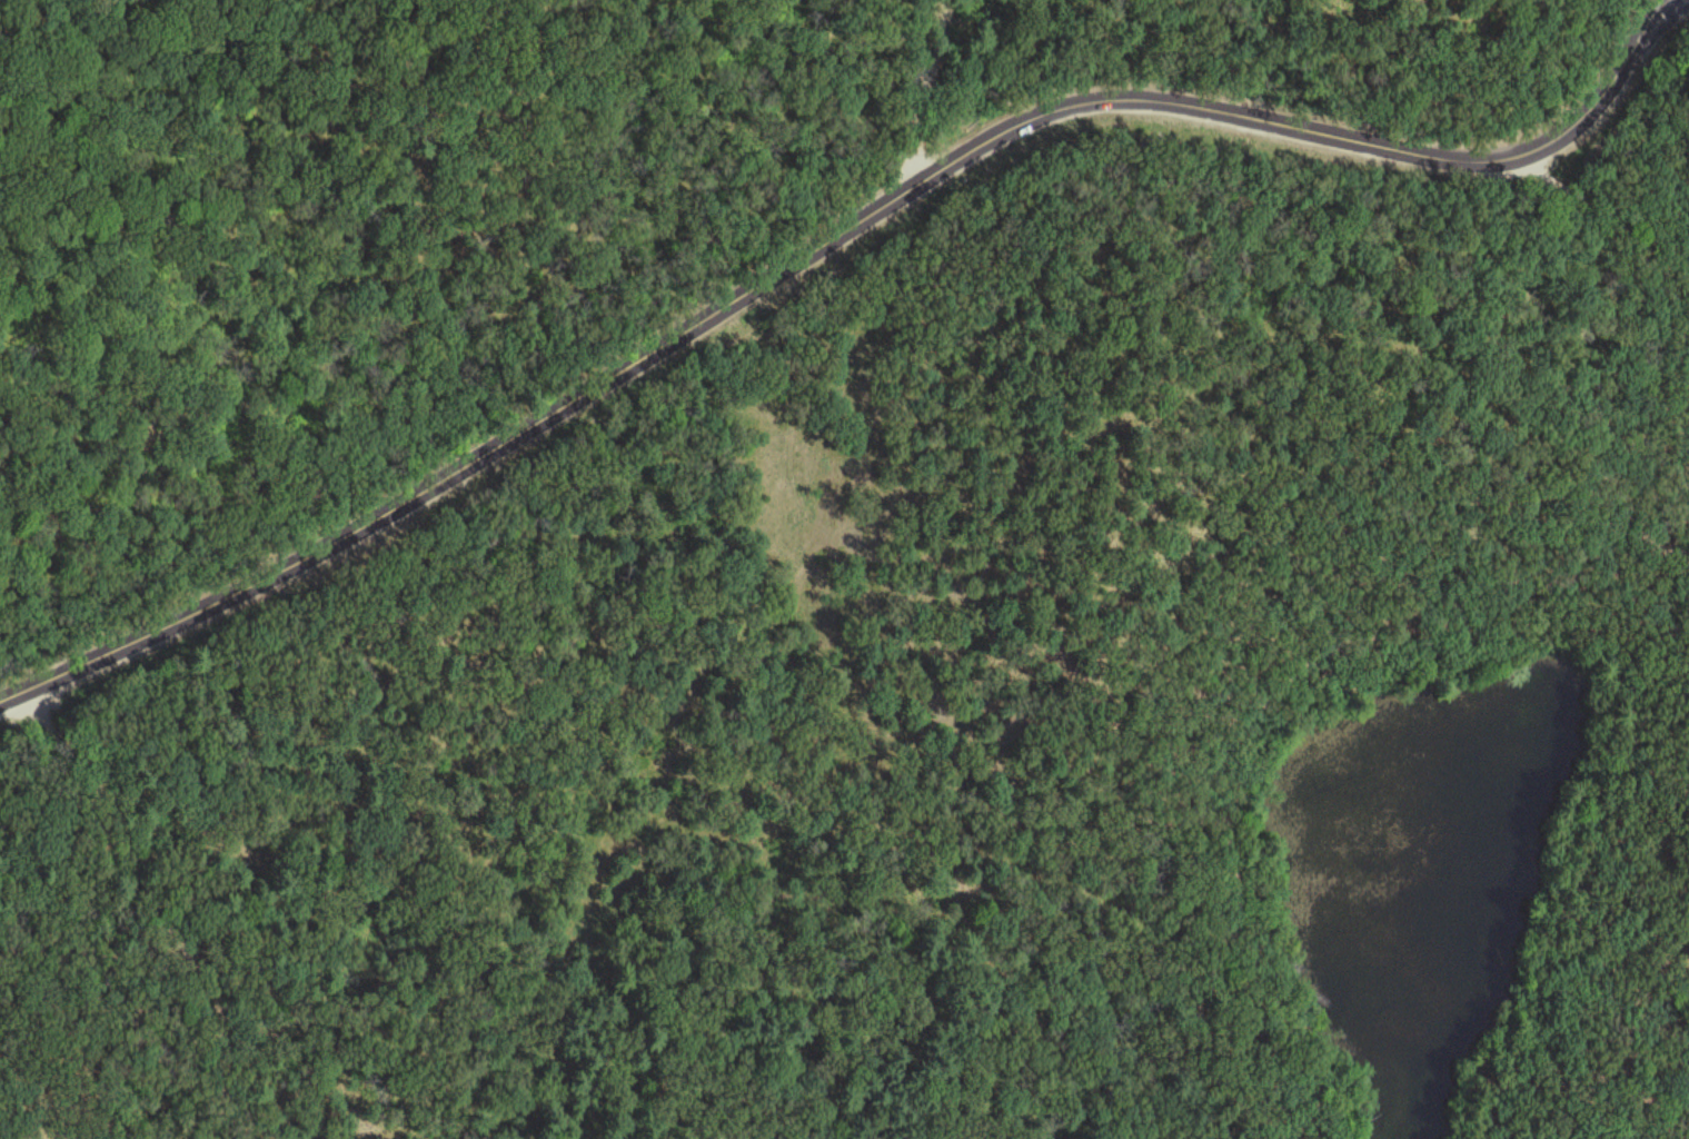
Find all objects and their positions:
road: (920, 87)
road: (827, 231)
road: (1050, 527)
road: (1668, 535)
road: (1443, 615)
road: (1603, 802)
road: (1144, 813)
road: (158, 899)
road: (1608, 1046)
road: (782, 1129)

